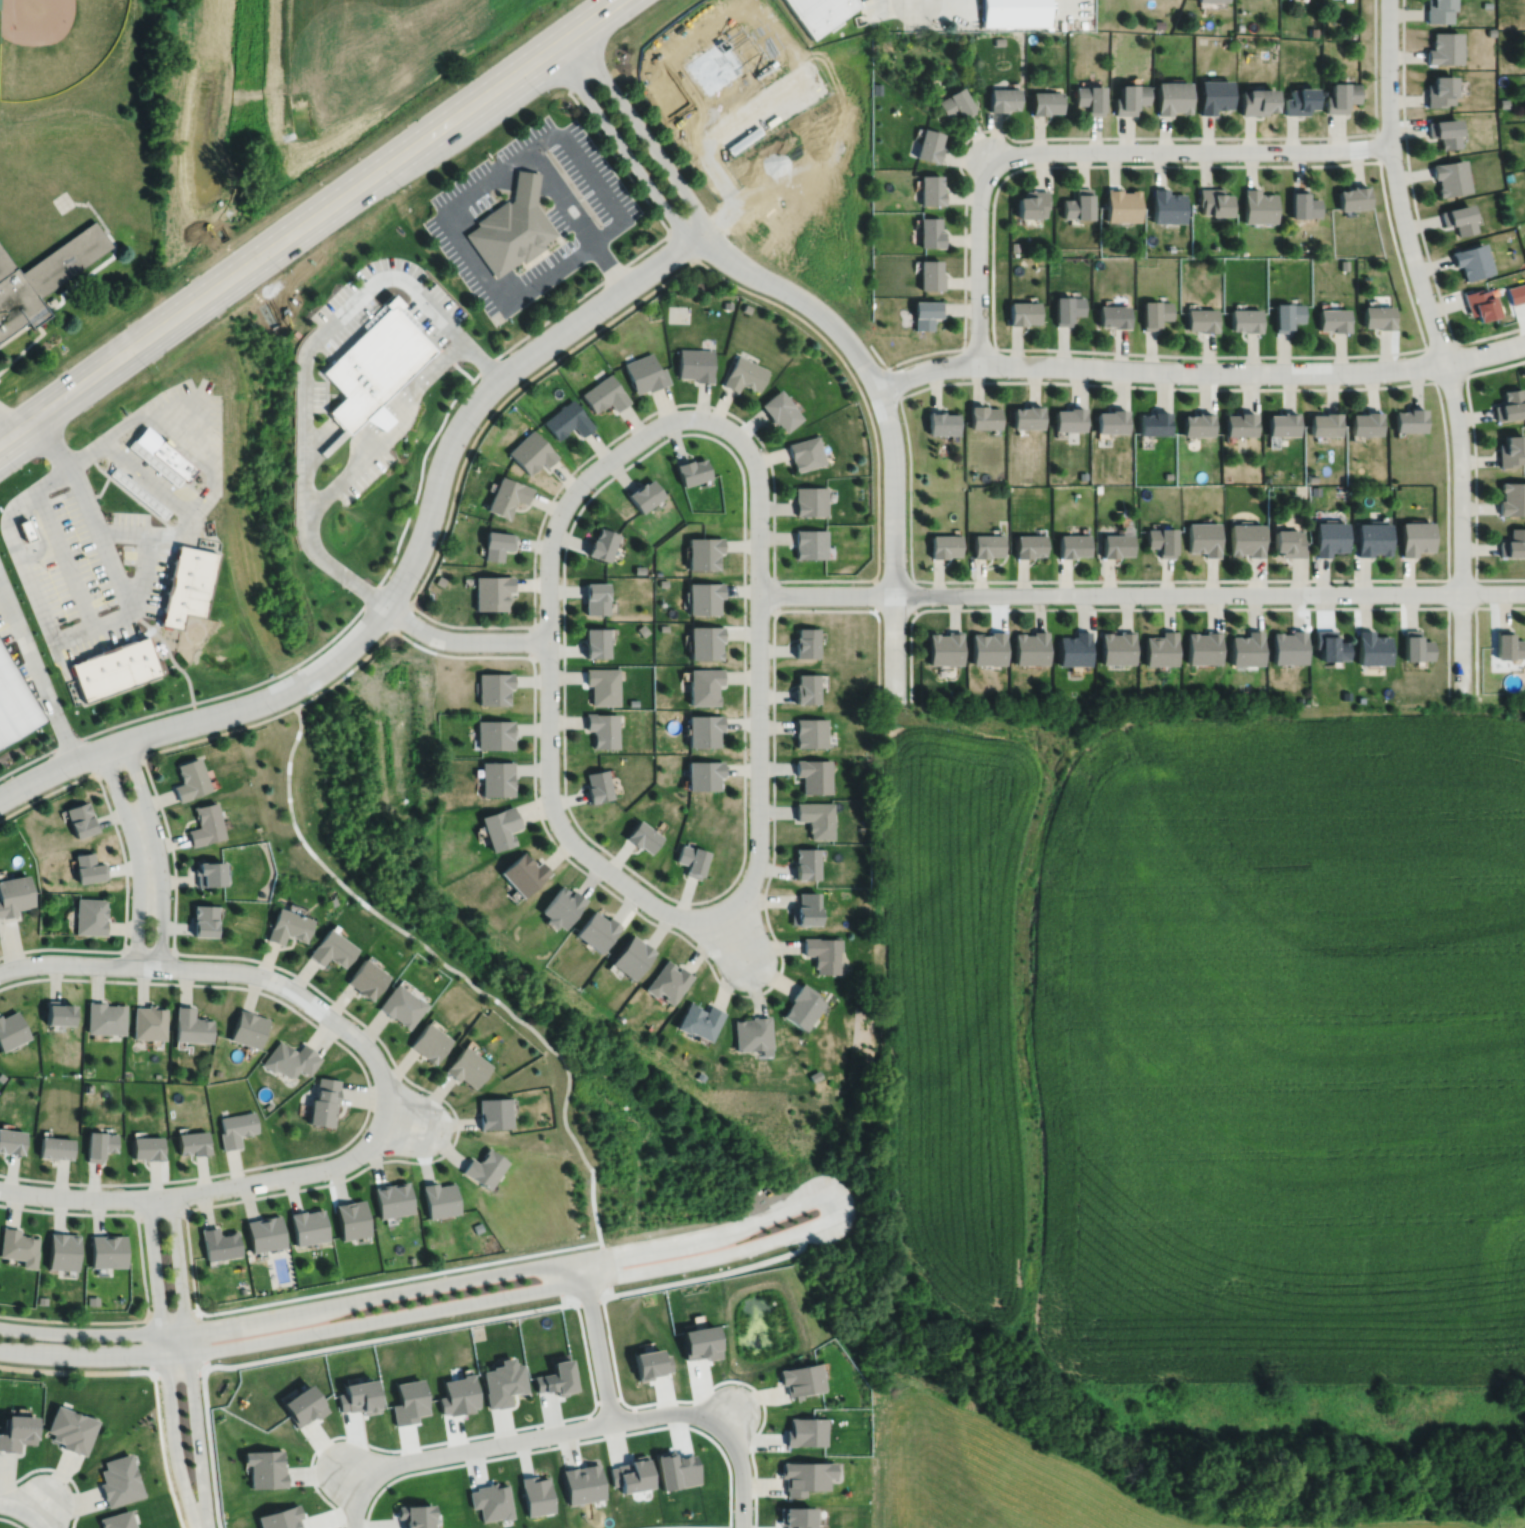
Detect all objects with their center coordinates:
building: (1213, 1)
parking lot: (873, 9)
building: (1436, 10)
building: (817, 12)
building: (1014, 12)
building: (1157, 22)
building: (1239, 25)
building: (1312, 31)
building: (998, 40)
building: (1442, 46)
park: (63, 52)
building: (1438, 89)
building: (1213, 94)
building: (1171, 95)
building: (1341, 95)
building: (1088, 96)
building: (1128, 96)
building: (1002, 97)
building: (1256, 99)
building: (1299, 99)
building: (1044, 101)
building: (954, 102)
road: (639, 130)
building: (1443, 130)
road: (1072, 137)
building: (927, 143)
road: (620, 145)
road: (1378, 145)
road: (1192, 150)
building: (1449, 176)
road: (520, 182)
building: (525, 184)
building: (929, 188)
building: (1352, 196)
road: (1384, 196)
road: (606, 197)
road: (560, 198)
building: (1211, 200)
building: (1301, 202)
building: (1029, 203)
building: (1076, 204)
building: (1120, 204)
building: (1165, 205)
building: (1257, 205)
road: (1415, 210)
parking lot: (528, 215)
building: (1457, 217)
road: (309, 221)
building: (928, 231)
building: (510, 234)
building: (1013, 245)
building: (1169, 247)
road: (978, 253)
road: (473, 260)
building: (1471, 260)
building: (1343, 264)
building: (928, 274)
building: (42, 276)
building: (1516, 293)
building: (1478, 303)
building: (725, 304)
building: (745, 308)
building: (1065, 308)
building: (924, 312)
building: (1020, 312)
building: (1153, 312)
building: (1286, 315)
building: (1112, 316)
building: (1377, 316)
building: (1200, 319)
building: (1244, 319)
building: (1333, 319)
road: (978, 347)
road: (1440, 347)
road: (303, 362)
building: (694, 364)
building: (374, 365)
road: (1200, 370)
building: (644, 373)
building: (743, 374)
road: (1463, 375)
road: (894, 381)
road: (1436, 387)
building: (603, 394)
building: (1509, 405)
building: (779, 410)
building: (982, 417)
building: (1025, 417)
building: (1068, 419)
road: (8, 420)
building: (566, 420)
building: (1410, 420)
building: (1110, 421)
road: (888, 423)
building: (940, 423)
building: (1153, 423)
building: (1366, 423)
building: (1196, 424)
building: (1239, 424)
building: (1282, 424)
building: (1324, 425)
road: (388, 433)
building: (1510, 450)
building: (530, 453)
building: (805, 453)
road: (465, 455)
building: (160, 456)
building: (692, 468)
road: (1475, 471)
building: (1081, 475)
building: (1167, 475)
building: (1266, 478)
building: (1311, 478)
building: (1097, 488)
building: (136, 492)
building: (645, 492)
building: (505, 497)
building: (1512, 499)
building: (810, 501)
road: (5, 519)
building: (28, 526)
building: (1415, 538)
building: (1202, 539)
building: (1329, 539)
building: (1244, 540)
building: (1372, 540)
road: (743, 541)
building: (1159, 541)
building: (602, 542)
building: (810, 544)
building: (1287, 544)
building: (1513, 544)
building: (495, 545)
building: (942, 546)
building: (985, 546)
building: (1027, 546)
building: (1071, 546)
building: (1114, 546)
road: (395, 549)
building: (705, 549)
road: (142, 568)
building: (657, 571)
road: (403, 575)
road: (1474, 579)
building: (438, 580)
road: (894, 580)
building: (662, 581)
building: (188, 583)
building: (490, 593)
road: (876, 593)
road: (1209, 593)
road: (392, 594)
road: (825, 594)
building: (704, 595)
building: (597, 596)
road: (773, 596)
road: (913, 596)
road: (1182, 607)
road: (893, 608)
road: (758, 610)
parking lot: (9, 611)
road: (1475, 624)
road: (389, 625)
building: (663, 626)
building: (643, 628)
road: (461, 639)
building: (597, 640)
building: (705, 640)
building: (807, 640)
road: (530, 641)
building: (1328, 644)
building: (1415, 644)
building: (1506, 644)
building: (1028, 645)
building: (1115, 645)
building: (1202, 645)
building: (1287, 645)
building: (943, 646)
building: (986, 646)
building: (1244, 646)
building: (1370, 646)
building: (1072, 647)
building: (1159, 647)
road: (371, 648)
building: (116, 666)
road: (39, 671)
road: (548, 678)
building: (704, 683)
building: (603, 684)
building: (493, 686)
building: (807, 687)
building: (15, 700)
building: (632, 701)
building: (603, 727)
building: (705, 728)
building: (811, 731)
building: (494, 732)
building: (442, 750)
building: (442, 761)
road: (118, 763)
building: (704, 773)
building: (814, 774)
building: (495, 777)
building: (188, 778)
building: (599, 784)
building: (817, 817)
building: (80, 818)
building: (204, 823)
building: (498, 826)
building: (644, 835)
road: (159, 851)
road: (135, 854)
building: (693, 859)
building: (807, 862)
building: (88, 867)
road: (124, 867)
building: (207, 872)
building: (522, 872)
building: (14, 894)
building: (560, 906)
building: (806, 908)
road: (716, 911)
building: (90, 915)
building: (202, 919)
building: (286, 925)
building: (595, 930)
road: (734, 935)
building: (331, 948)
road: (149, 951)
building: (823, 953)
building: (631, 956)
road: (205, 969)
building: (366, 978)
building: (667, 981)
building: (401, 1004)
building: (802, 1006)
building: (58, 1012)
building: (104, 1017)
building: (699, 1021)
building: (147, 1022)
building: (189, 1026)
building: (247, 1028)
building: (11, 1030)
building: (752, 1033)
road: (543, 1041)
building: (429, 1042)
crop: (1215, 1042)
building: (290, 1059)
building: (466, 1067)
building: (217, 1072)
building: (1, 1076)
building: (88, 1087)
road: (368, 1088)
building: (324, 1103)
building: (267, 1105)
building: (493, 1113)
road: (381, 1116)
road: (402, 1120)
building: (235, 1128)
building: (11, 1142)
building: (192, 1143)
building: (98, 1145)
building: (55, 1148)
building: (146, 1148)
building: (484, 1169)
road: (177, 1193)
road: (841, 1199)
building: (438, 1200)
building: (391, 1201)
road: (160, 1210)
building: (350, 1221)
building: (306, 1227)
building: (477, 1227)
building: (263, 1235)
building: (16, 1243)
building: (217, 1244)
building: (60, 1248)
building: (105, 1248)
road: (142, 1271)
building: (241, 1289)
building: (41, 1298)
building: (91, 1298)
road: (92, 1332)
road: (596, 1339)
road: (305, 1351)
road: (93, 1357)
road: (188, 1359)
road: (164, 1362)
building: (557, 1376)
building: (800, 1377)
building: (503, 1380)
building: (302, 1403)
road: (727, 1416)
building: (69, 1428)
building: (16, 1430)
building: (804, 1430)
road: (539, 1435)
road: (751, 1448)
road: (210, 1449)
building: (265, 1467)
road: (60, 1470)
building: (630, 1473)
road: (399, 1475)
building: (804, 1475)
road: (354, 1476)
road: (741, 1477)
building: (117, 1479)
building: (582, 1482)
building: (535, 1494)
building: (490, 1500)
road: (41, 1505)
road: (16, 1507)
road: (355, 1509)
building: (412, 1514)
building: (795, 1516)
building: (279, 1517)
road: (12, 1520)
building: (116, 1520)
road: (37, 1522)
road: (688, 1526)

